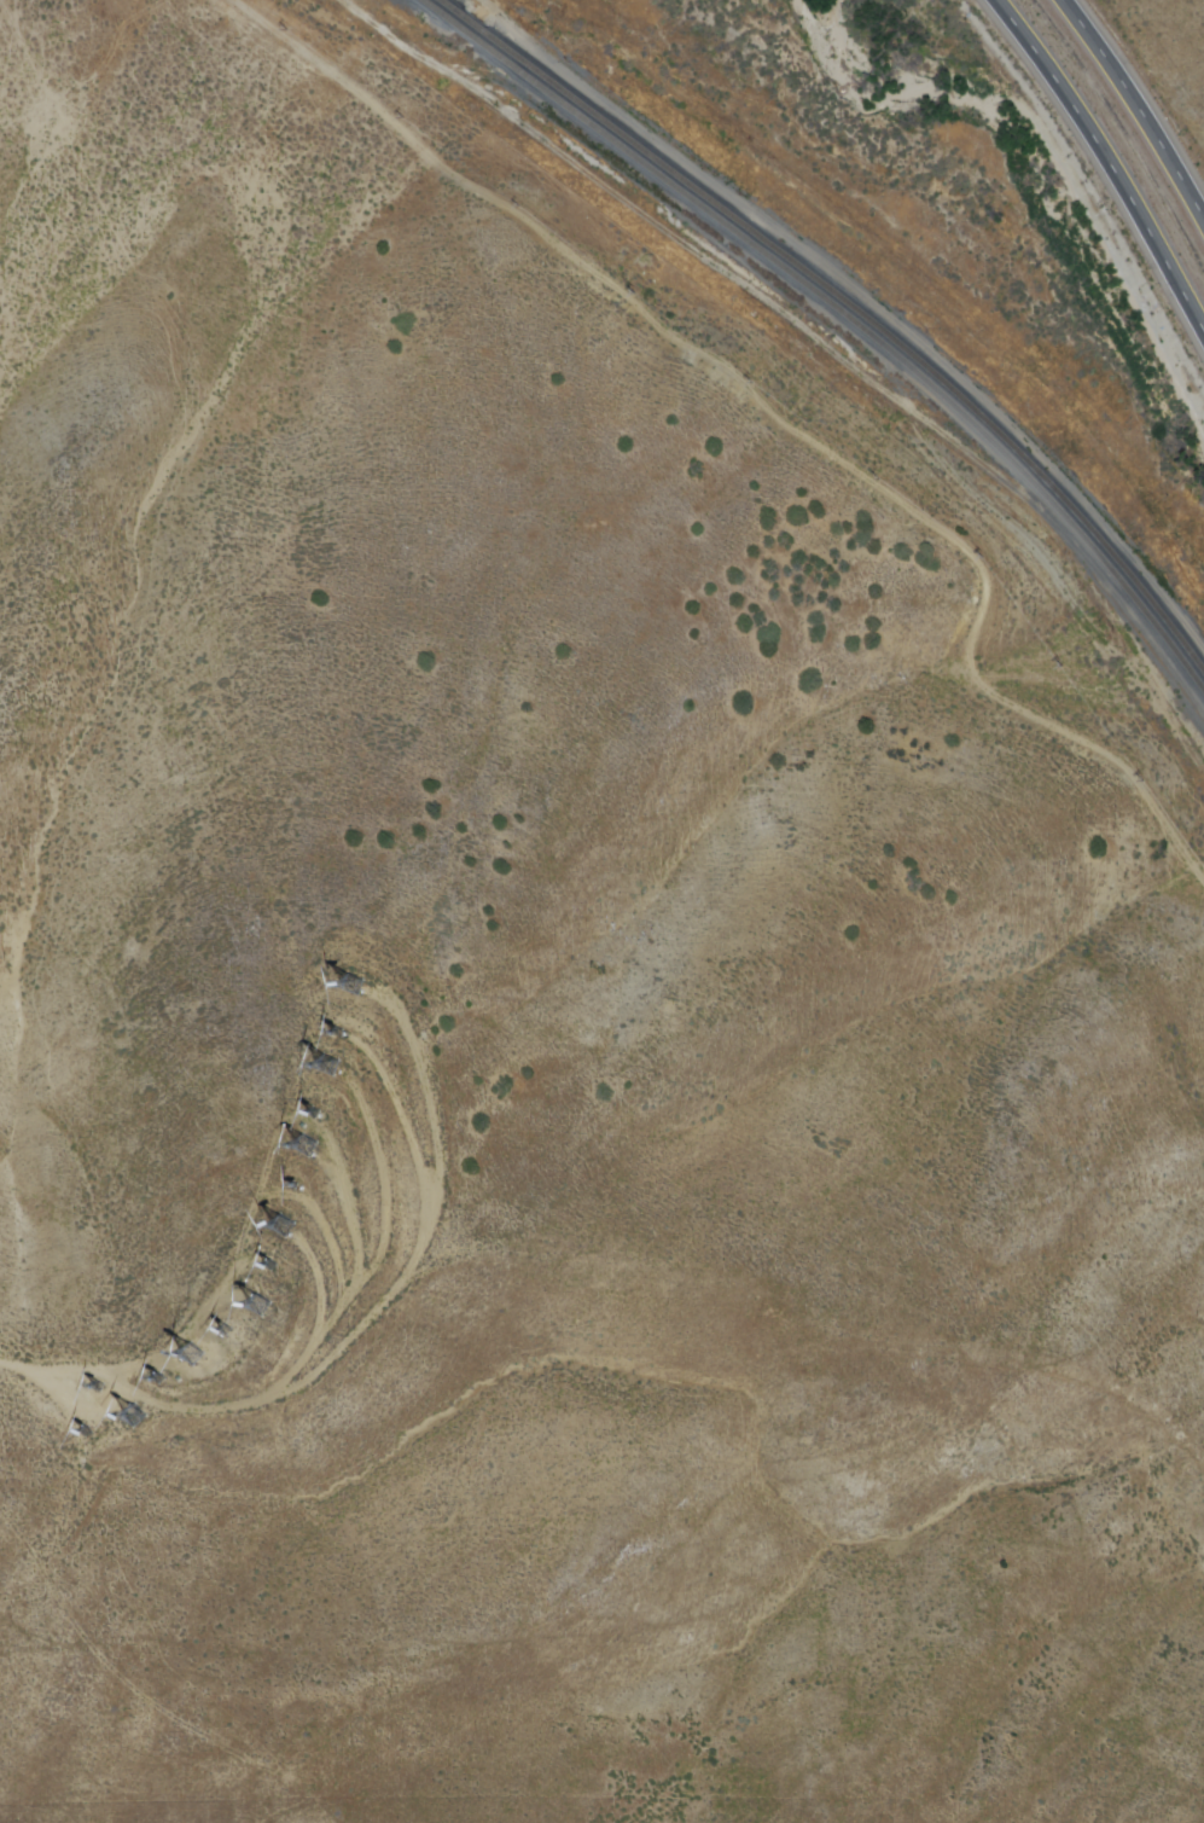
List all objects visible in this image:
railway: (449, 7)
railway: (436, 12)
railway: (470, 24)
railway: (464, 33)
road: (664, 39)
road: (1136, 108)
road: (1107, 161)
railway: (869, 323)
railway: (867, 336)
wind turbine: (350, 986)
wind turbine: (331, 1034)
wind turbine: (322, 1066)
wind turbine: (309, 1111)
wind turbine: (304, 1144)
wind turbine: (296, 1188)
wind turbine: (284, 1229)
wind turbine: (273, 1267)
wind turbine: (260, 1305)
wind turbine: (222, 1330)
road: (350, 1337)
wind turbine: (192, 1354)
wind turbine: (153, 1378)
wind turbine: (100, 1384)
wind turbine: (138, 1413)
wind turbine: (89, 1433)

